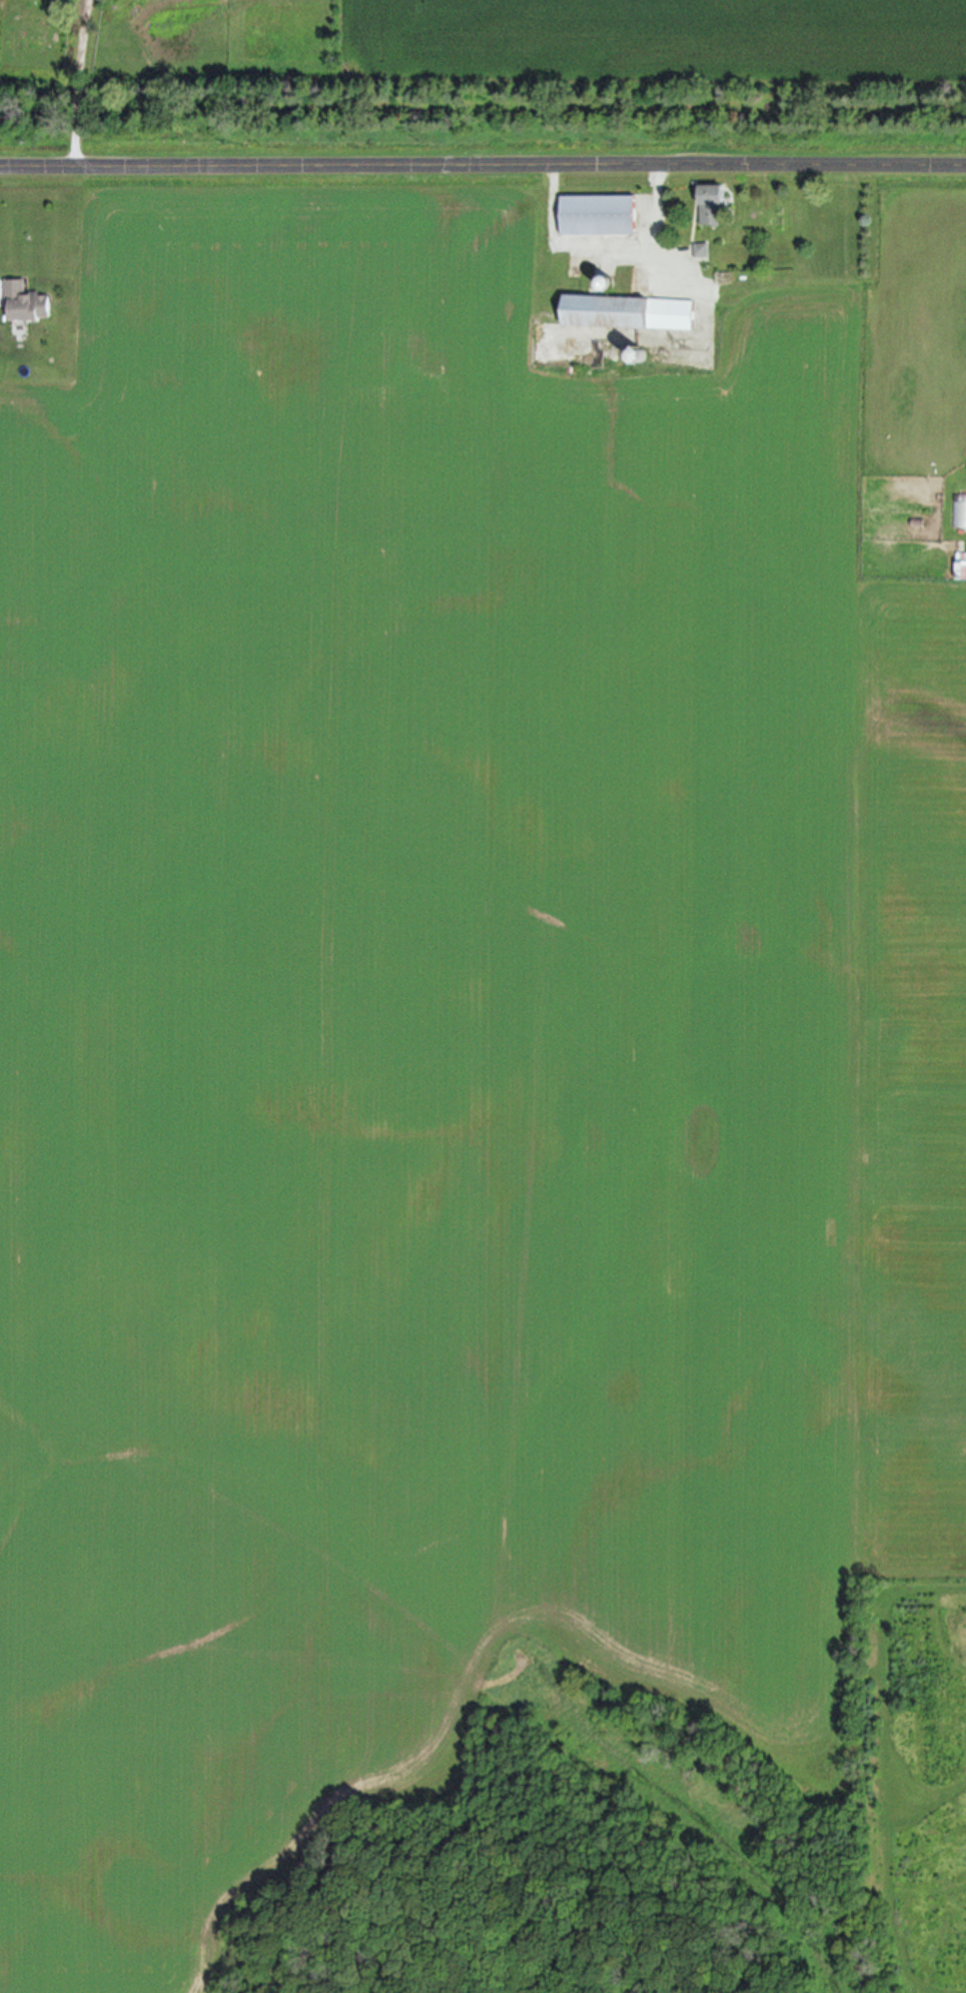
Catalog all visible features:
road: (82, 82)
road: (483, 165)
building: (708, 203)
building: (596, 216)
road: (606, 244)
building: (700, 251)
building: (25, 305)
building: (626, 313)
building: (959, 513)

